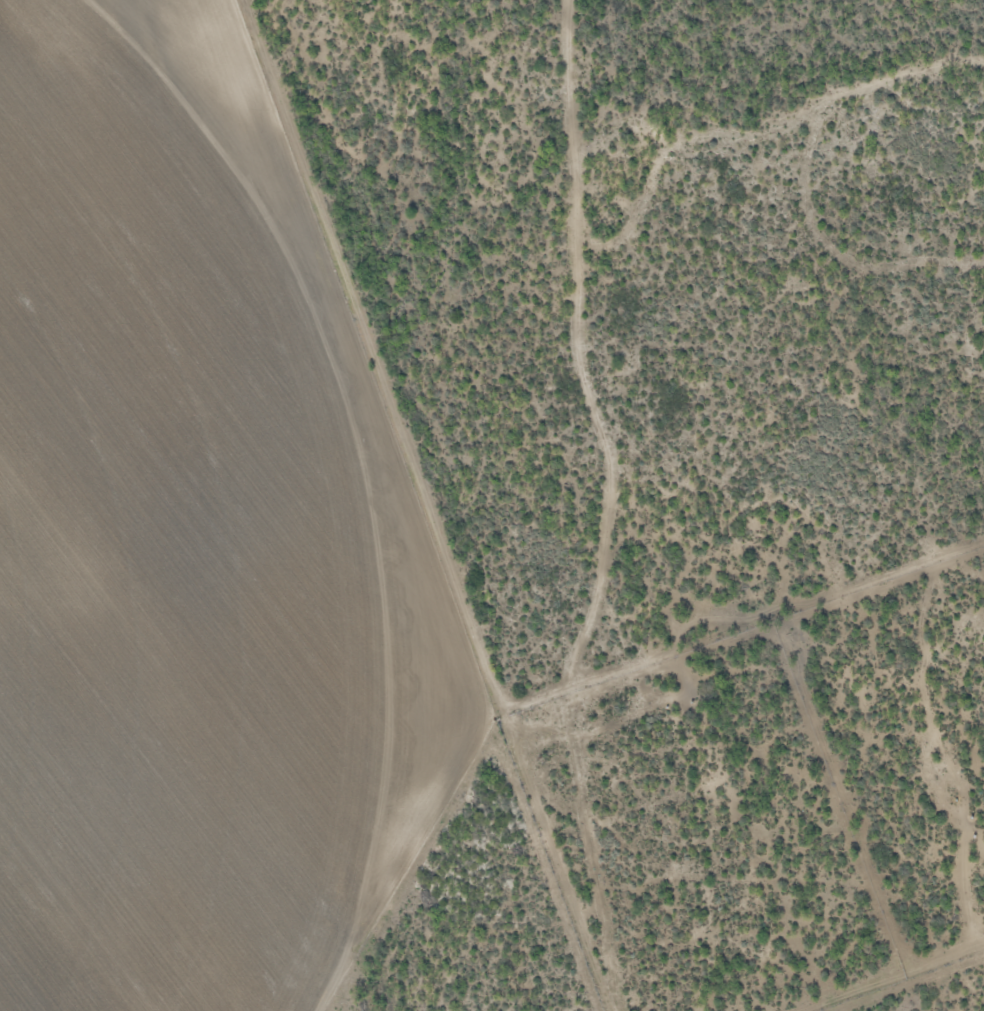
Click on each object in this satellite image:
road: (631, 508)

